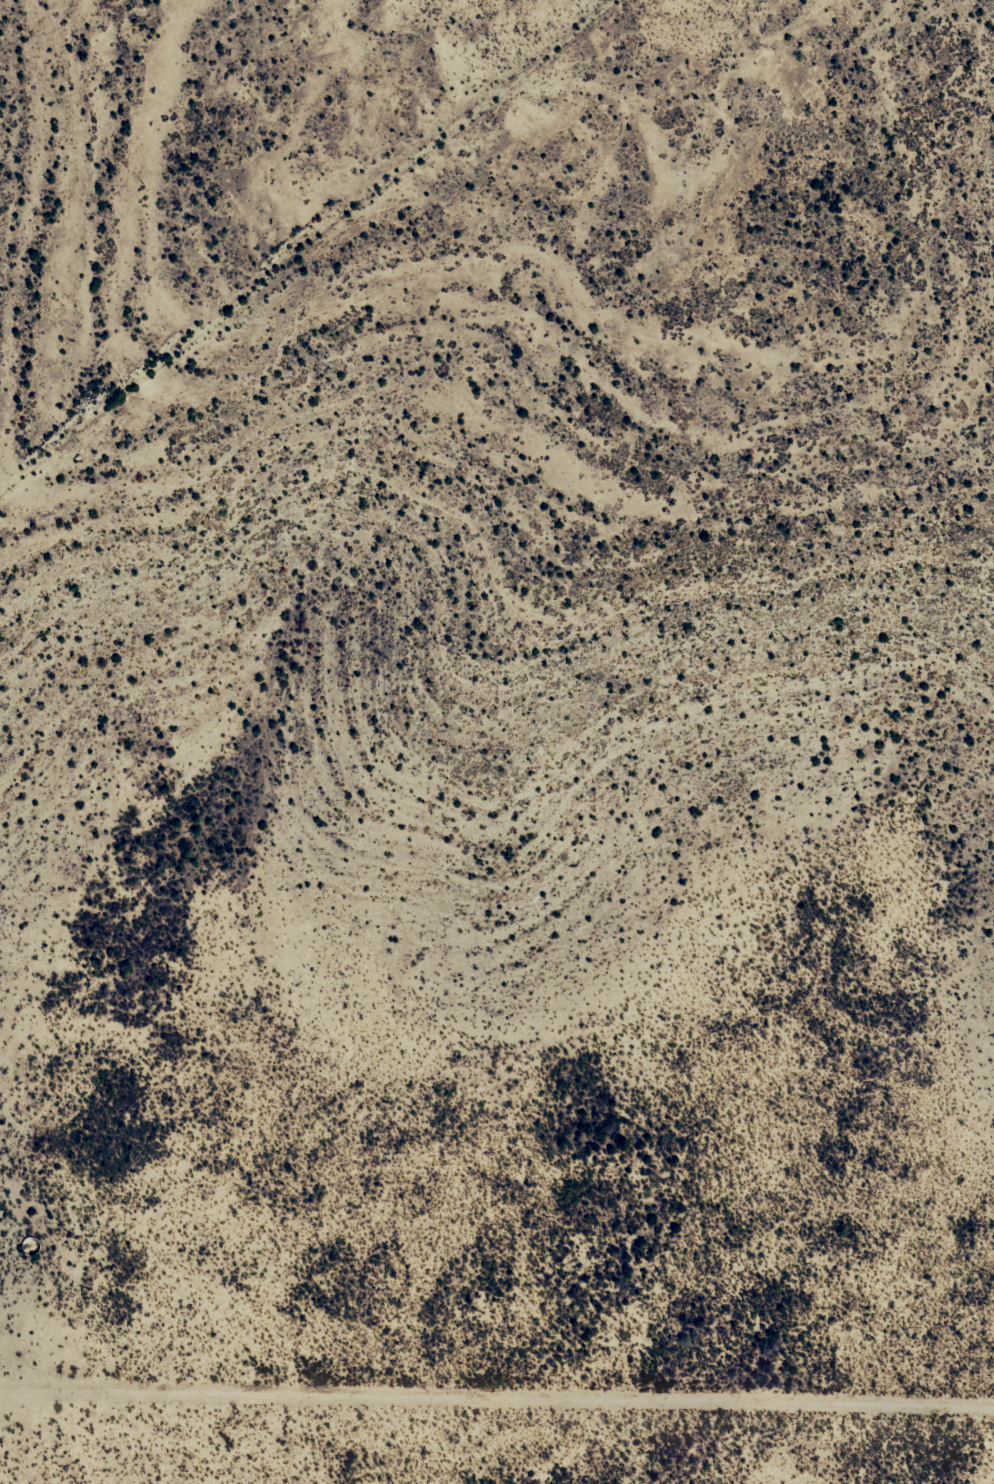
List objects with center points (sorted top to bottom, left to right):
road: (88, 1400)

